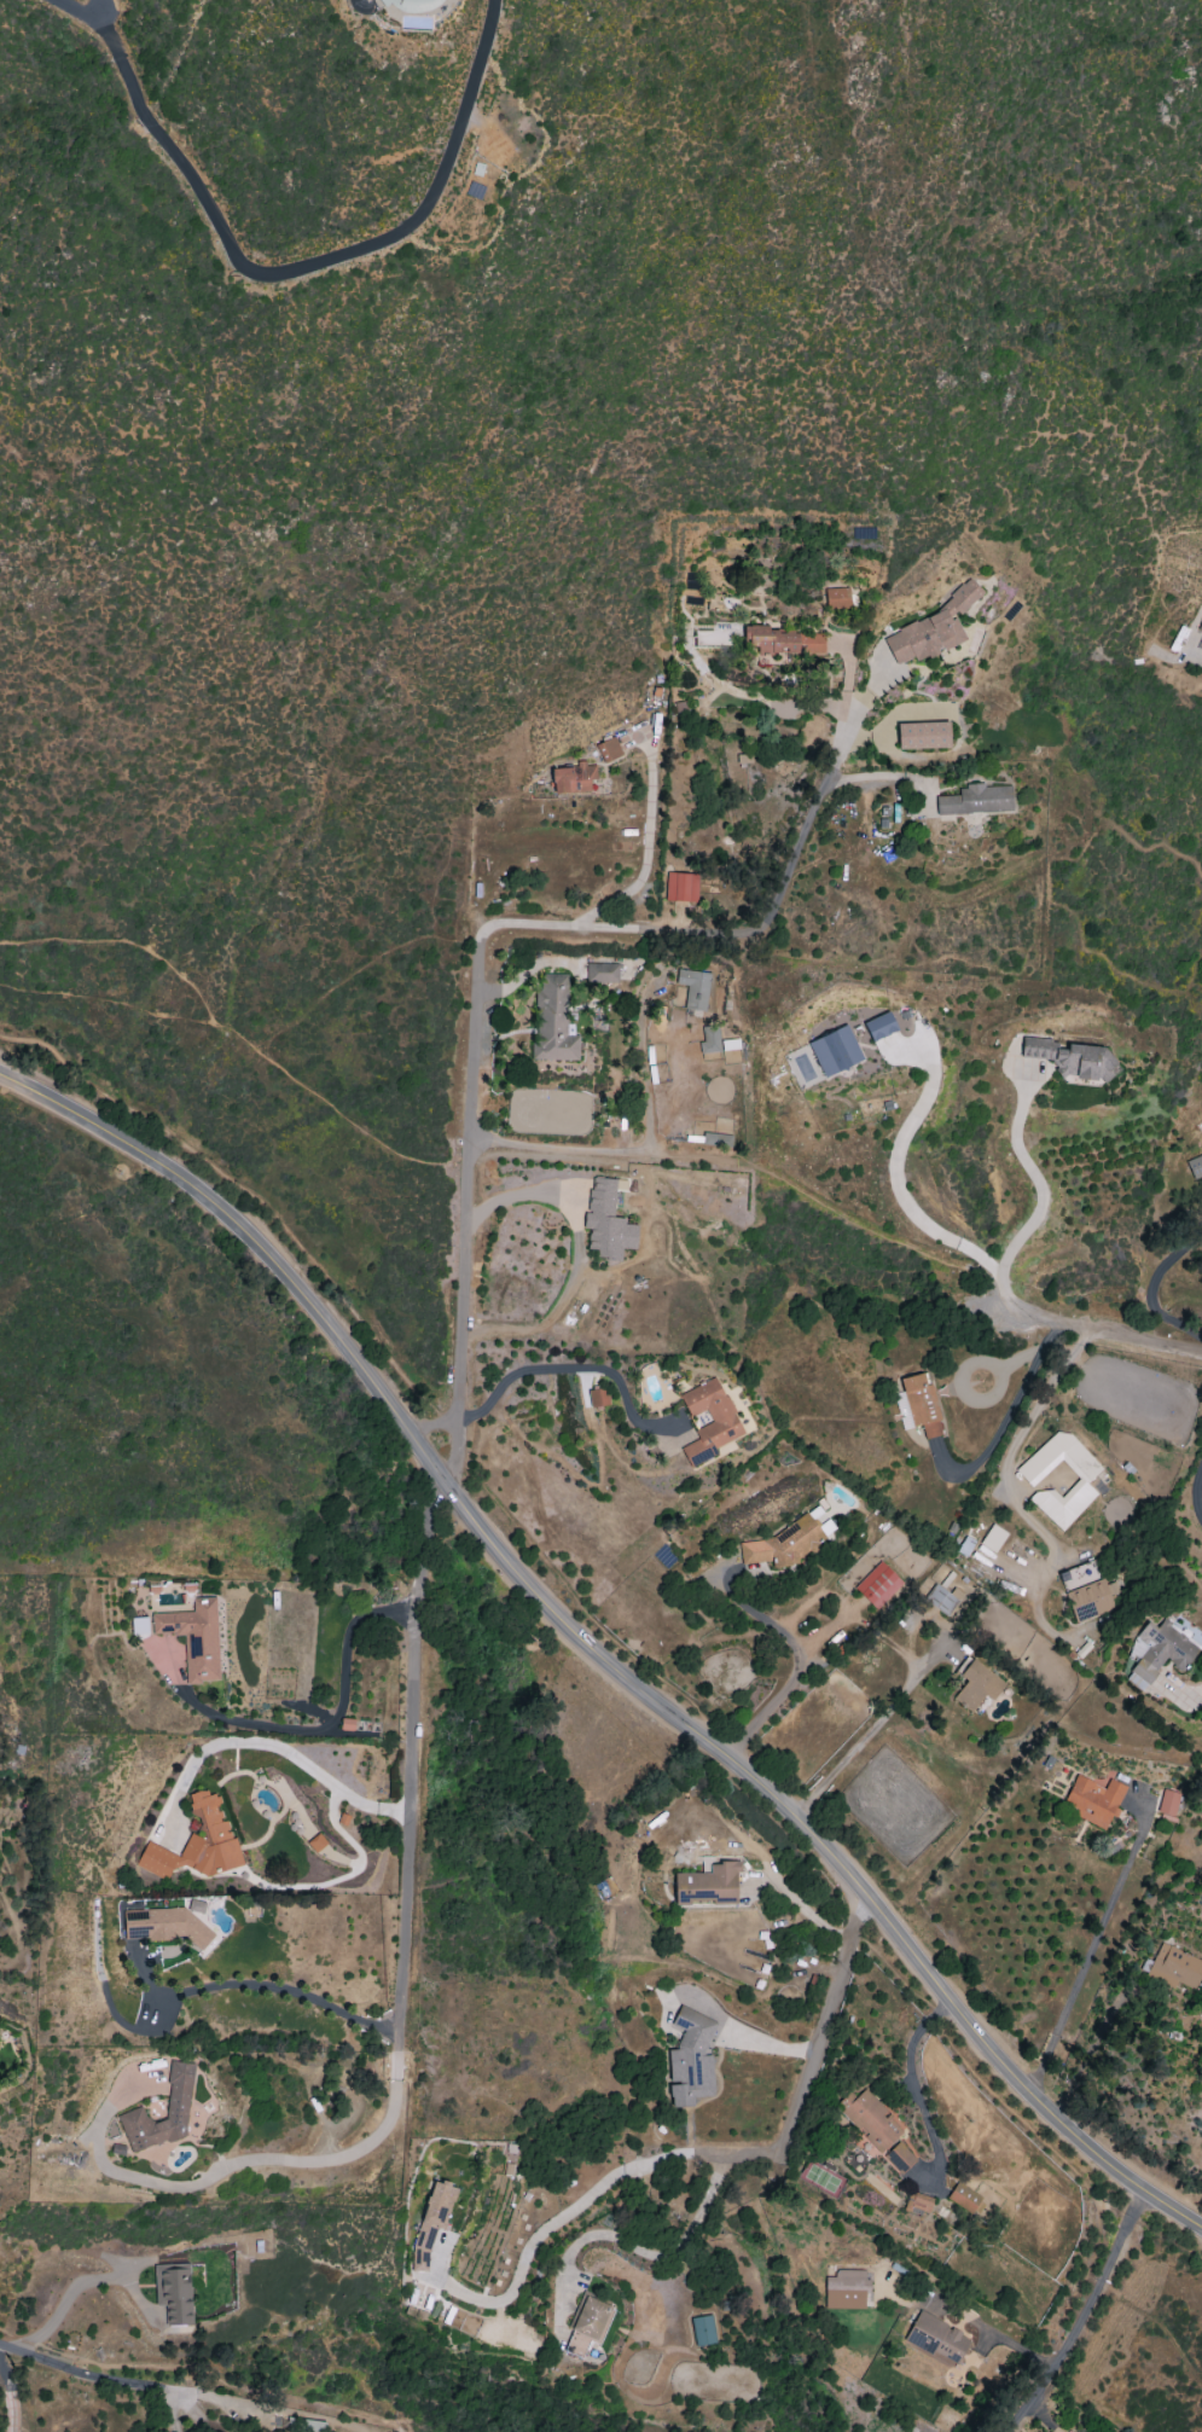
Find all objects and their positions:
road: (367, 4)
building: (406, 6)
road: (98, 13)
road: (290, 271)
building: (836, 598)
building: (1200, 627)
building: (933, 628)
building: (782, 642)
road: (1198, 660)
building: (922, 735)
building: (608, 749)
road: (885, 776)
building: (573, 778)
building: (976, 800)
road: (644, 855)
building: (681, 887)
road: (736, 934)
road: (358, 969)
road: (528, 973)
building: (602, 973)
building: (693, 988)
road: (109, 1002)
building: (553, 1021)
building: (879, 1026)
road: (233, 1035)
building: (709, 1040)
building: (835, 1051)
building: (1072, 1058)
building: (1201, 1125)
building: (715, 1139)
road: (639, 1149)
building: (1195, 1167)
road: (900, 1194)
road: (1040, 1201)
road: (465, 1209)
building: (606, 1221)
road: (249, 1241)
road: (576, 1255)
road: (1151, 1288)
road: (1114, 1331)
road: (390, 1363)
road: (563, 1369)
road: (964, 1371)
building: (598, 1398)
building: (922, 1404)
building: (902, 1410)
road: (1006, 1415)
building: (724, 1420)
road: (1021, 1443)
road: (446, 1480)
building: (1082, 1481)
road: (1196, 1490)
building: (992, 1538)
building: (783, 1544)
building: (965, 1546)
building: (877, 1586)
building: (1085, 1591)
building: (940, 1600)
building: (138, 1624)
building: (194, 1638)
building: (1157, 1653)
road: (799, 1665)
building: (976, 1684)
road: (1191, 1695)
building: (345, 1724)
road: (315, 1731)
road: (865, 1736)
road: (274, 1739)
building: (1093, 1800)
building: (1168, 1804)
road: (763, 1810)
building: (317, 1842)
building: (196, 1844)
road: (828, 1855)
building: (707, 1885)
road: (800, 1906)
building: (162, 1926)
road: (1092, 1943)
building: (1174, 1968)
road: (263, 1984)
road: (403, 2003)
road: (750, 2037)
building: (690, 2059)
road: (916, 2088)
building: (176, 2111)
road: (1012, 2112)
building: (870, 2119)
road: (699, 2152)
building: (899, 2158)
building: (963, 2196)
building: (918, 2204)
building: (977, 2210)
building: (432, 2222)
road: (648, 2254)
road: (87, 2279)
building: (846, 2289)
building: (174, 2292)
road: (1080, 2311)
building: (587, 2326)
road: (1157, 2326)
building: (703, 2331)
road: (991, 2332)
road: (13, 2334)
building: (937, 2338)
road: (19, 2345)
road: (86, 2374)
road: (197, 2380)
road: (11, 2396)
road: (319, 2404)
road: (169, 2410)
road: (1044, 2416)
road: (768, 2420)
building: (306, 2425)

